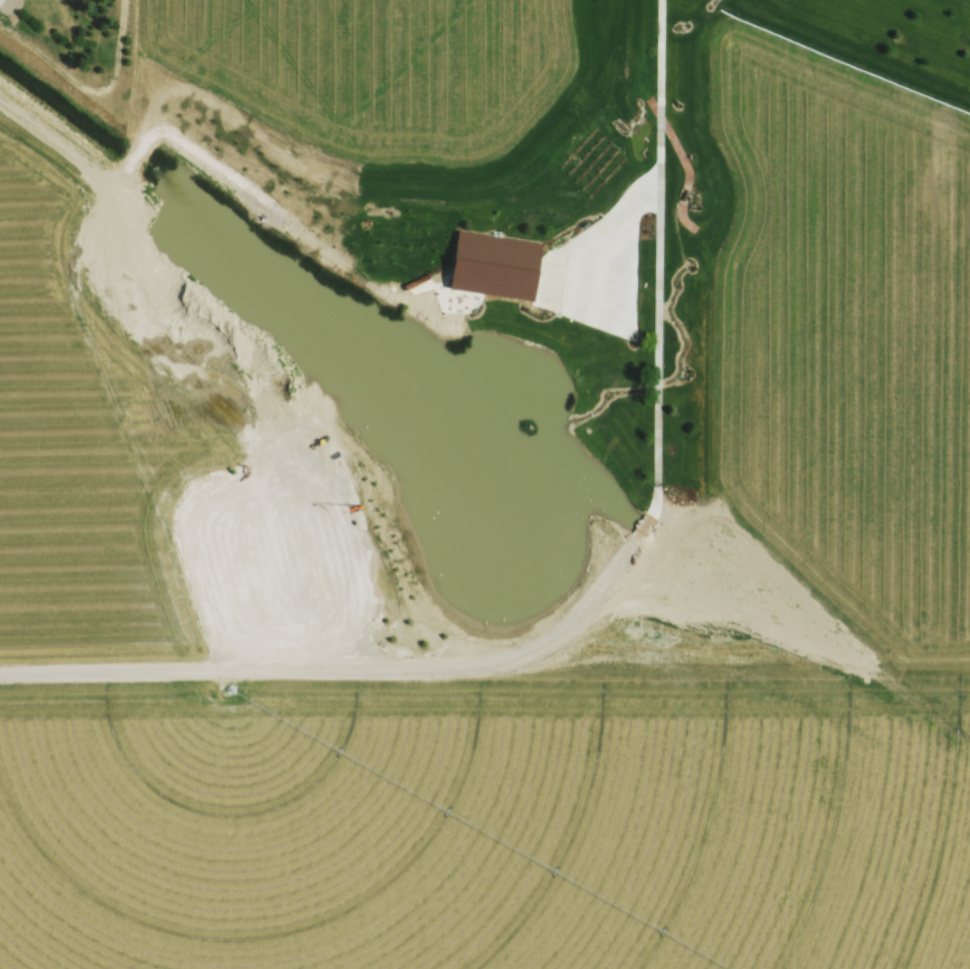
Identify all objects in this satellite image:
road: (343, 662)

